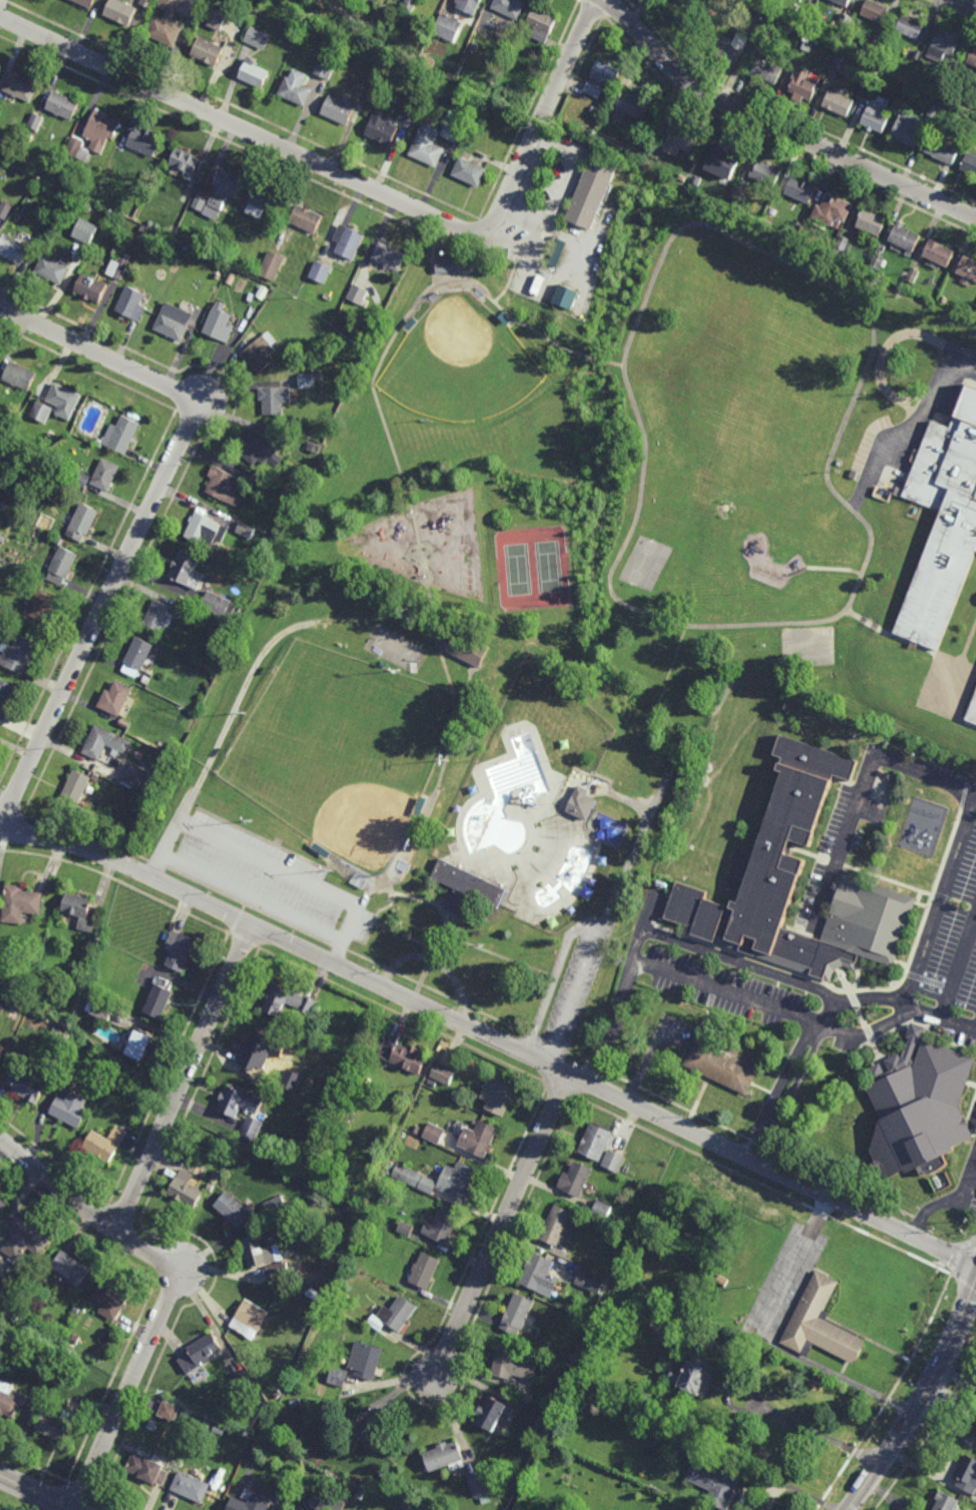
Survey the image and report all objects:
building: (812, 1)
building: (88, 2)
building: (147, 2)
building: (842, 2)
building: (410, 4)
building: (469, 5)
road: (963, 5)
building: (511, 6)
building: (713, 9)
building: (120, 10)
building: (874, 10)
building: (734, 14)
road: (944, 14)
building: (777, 16)
building: (216, 19)
building: (844, 20)
building: (386, 23)
building: (541, 23)
building: (448, 26)
building: (910, 26)
building: (164, 29)
building: (258, 36)
building: (522, 37)
building: (804, 43)
building: (732, 45)
building: (942, 47)
building: (207, 49)
building: (868, 50)
building: (918, 53)
building: (972, 56)
building: (884, 58)
building: (840, 62)
building: (326, 65)
building: (767, 68)
building: (254, 71)
building: (877, 74)
building: (602, 77)
building: (942, 80)
building: (803, 81)
building: (22, 86)
building: (296, 86)
building: (972, 98)
building: (485, 100)
building: (838, 101)
building: (600, 103)
building: (65, 104)
building: (634, 104)
building: (339, 108)
building: (934, 109)
building: (412, 112)
building: (874, 116)
building: (37, 121)
building: (383, 126)
road: (778, 126)
building: (909, 127)
building: (452, 130)
building: (964, 134)
building: (95, 135)
building: (29, 136)
building: (682, 139)
building: (144, 141)
building: (14, 143)
road: (778, 143)
building: (429, 145)
building: (942, 148)
building: (731, 155)
building: (184, 160)
building: (969, 163)
building: (471, 170)
building: (766, 172)
building: (683, 177)
building: (697, 179)
road: (357, 181)
building: (227, 183)
building: (594, 187)
building: (54, 188)
building: (800, 188)
building: (738, 193)
building: (200, 200)
building: (264, 201)
building: (89, 205)
building: (832, 209)
building: (5, 210)
building: (19, 217)
building: (307, 218)
building: (871, 222)
building: (144, 229)
building: (85, 231)
road: (491, 235)
building: (904, 235)
building: (349, 241)
building: (842, 245)
building: (14, 248)
building: (939, 252)
building: (557, 253)
building: (390, 256)
road: (431, 261)
building: (877, 261)
road: (478, 263)
road: (657, 263)
building: (211, 264)
building: (272, 265)
building: (119, 266)
building: (447, 266)
building: (967, 267)
building: (54, 269)
building: (322, 272)
building: (913, 275)
building: (230, 278)
building: (91, 287)
building: (251, 291)
building: (262, 292)
building: (359, 294)
building: (433, 294)
building: (565, 296)
building: (485, 299)
building: (131, 303)
building: (424, 309)
building: (975, 311)
building: (173, 321)
building: (219, 323)
road: (526, 325)
building: (261, 351)
building: (292, 360)
road: (603, 360)
park: (461, 363)
road: (618, 363)
building: (20, 376)
building: (306, 381)
road: (933, 393)
building: (272, 397)
building: (65, 400)
building: (966, 406)
building: (42, 412)
building: (120, 435)
building: (317, 448)
building: (262, 449)
building: (267, 471)
building: (105, 474)
building: (82, 480)
building: (260, 481)
building: (224, 486)
building: (285, 491)
building: (1, 505)
building: (82, 520)
road: (145, 520)
building: (245, 528)
building: (205, 530)
building: (940, 534)
building: (2, 539)
building: (62, 562)
building: (0, 564)
park: (551, 567)
building: (186, 569)
park: (520, 570)
road: (425, 587)
building: (218, 604)
building: (39, 607)
building: (158, 615)
park: (482, 622)
building: (16, 628)
building: (468, 649)
building: (16, 652)
building: (137, 655)
building: (383, 663)
road: (671, 667)
road: (447, 672)
building: (144, 678)
road: (244, 687)
building: (5, 697)
building: (115, 697)
building: (971, 711)
road: (653, 715)
building: (125, 723)
road: (510, 732)
building: (105, 741)
park: (344, 752)
road: (648, 756)
building: (669, 771)
building: (138, 778)
building: (77, 785)
road: (862, 790)
road: (598, 793)
road: (630, 802)
building: (582, 803)
building: (423, 804)
road: (525, 812)
building: (509, 830)
road: (174, 832)
building: (454, 847)
building: (321, 848)
building: (768, 858)
road: (271, 865)
building: (466, 887)
building: (587, 893)
road: (397, 894)
road: (255, 898)
building: (20, 904)
building: (81, 910)
road: (650, 914)
road: (601, 925)
road: (350, 931)
road: (405, 936)
building: (178, 950)
road: (495, 954)
road: (433, 956)
road: (437, 962)
road: (554, 977)
road: (796, 984)
building: (158, 1001)
building: (287, 1001)
building: (99, 1008)
road: (824, 1009)
road: (935, 1014)
road: (797, 1015)
road: (868, 1030)
road: (492, 1038)
building: (139, 1046)
building: (255, 1050)
building: (1, 1051)
building: (406, 1056)
building: (720, 1063)
building: (53, 1069)
building: (361, 1072)
building: (444, 1073)
road: (183, 1076)
building: (291, 1080)
building: (28, 1084)
building: (498, 1094)
building: (408, 1095)
building: (240, 1099)
building: (69, 1101)
building: (916, 1107)
building: (331, 1112)
building: (252, 1127)
building: (416, 1129)
building: (434, 1132)
building: (403, 1134)
building: (480, 1136)
building: (595, 1140)
building: (106, 1142)
building: (614, 1160)
building: (216, 1173)
building: (412, 1176)
building: (575, 1178)
building: (457, 1179)
building: (185, 1189)
road: (951, 1202)
building: (3, 1204)
building: (276, 1206)
road: (87, 1207)
building: (232, 1208)
building: (602, 1209)
building: (614, 1218)
building: (622, 1221)
building: (441, 1224)
road: (501, 1226)
building: (557, 1227)
building: (405, 1228)
building: (26, 1238)
building: (265, 1258)
building: (71, 1267)
building: (424, 1270)
building: (540, 1274)
building: (344, 1276)
building: (590, 1280)
building: (2, 1281)
building: (111, 1299)
building: (400, 1313)
building: (516, 1313)
building: (249, 1318)
building: (83, 1321)
building: (320, 1322)
building: (376, 1322)
building: (820, 1323)
building: (200, 1352)
building: (0, 1356)
building: (573, 1358)
building: (365, 1360)
building: (513, 1362)
building: (696, 1375)
building: (338, 1376)
building: (242, 1379)
road: (392, 1380)
road: (126, 1393)
building: (277, 1394)
building: (9, 1400)
road: (920, 1400)
building: (73, 1408)
building: (169, 1411)
building: (188, 1412)
building: (492, 1412)
building: (207, 1423)
building: (54, 1426)
road: (816, 1435)
building: (245, 1436)
building: (377, 1438)
building: (689, 1444)
building: (444, 1457)
building: (148, 1468)
building: (967, 1474)
building: (383, 1476)
building: (716, 1483)
building: (191, 1486)
building: (479, 1488)
building: (359, 1492)
road: (36, 1493)
building: (326, 1501)
building: (946, 1501)
building: (248, 1504)

